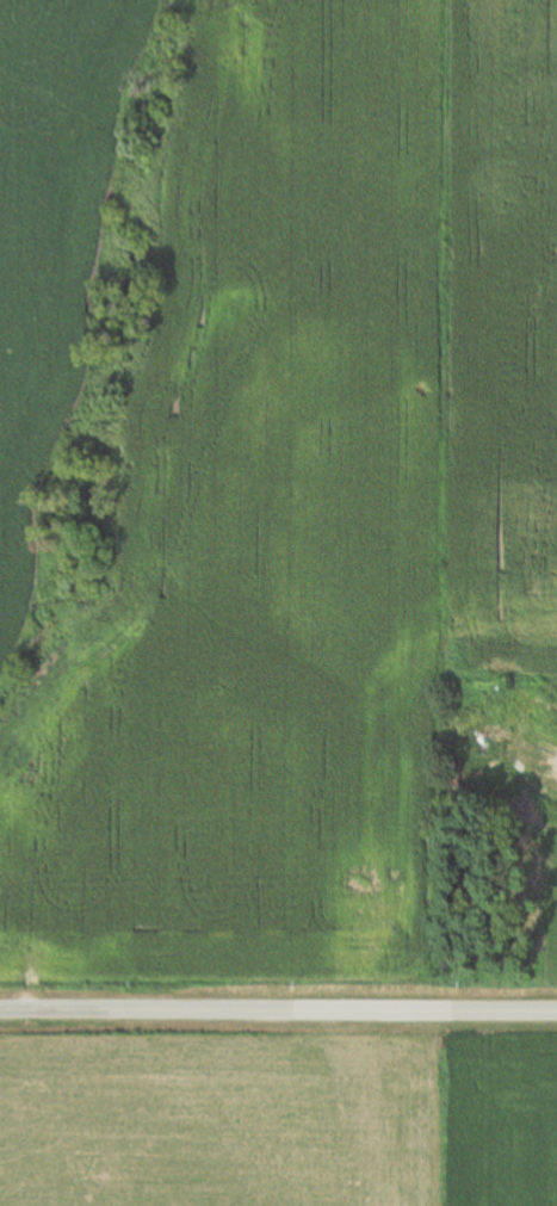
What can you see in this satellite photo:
road: (278, 1008)

